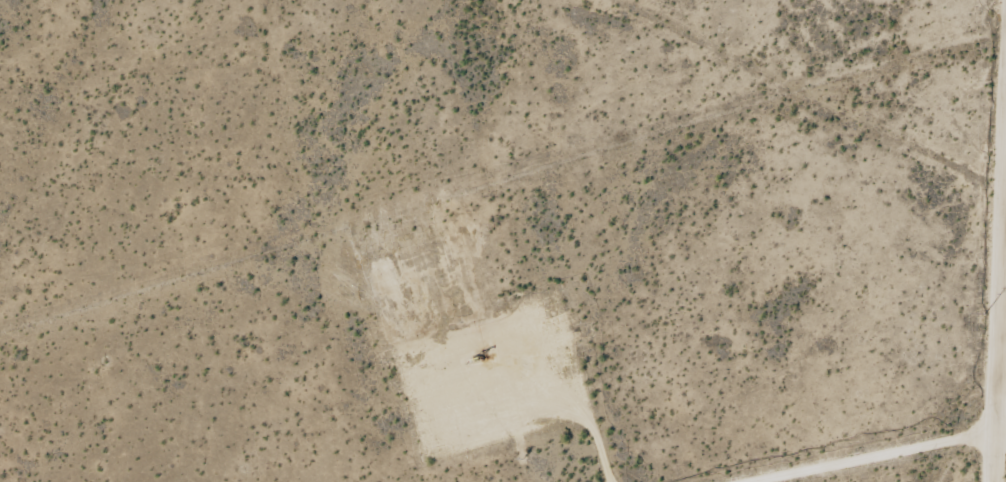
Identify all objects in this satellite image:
road: (998, 291)
power tower: (985, 313)

